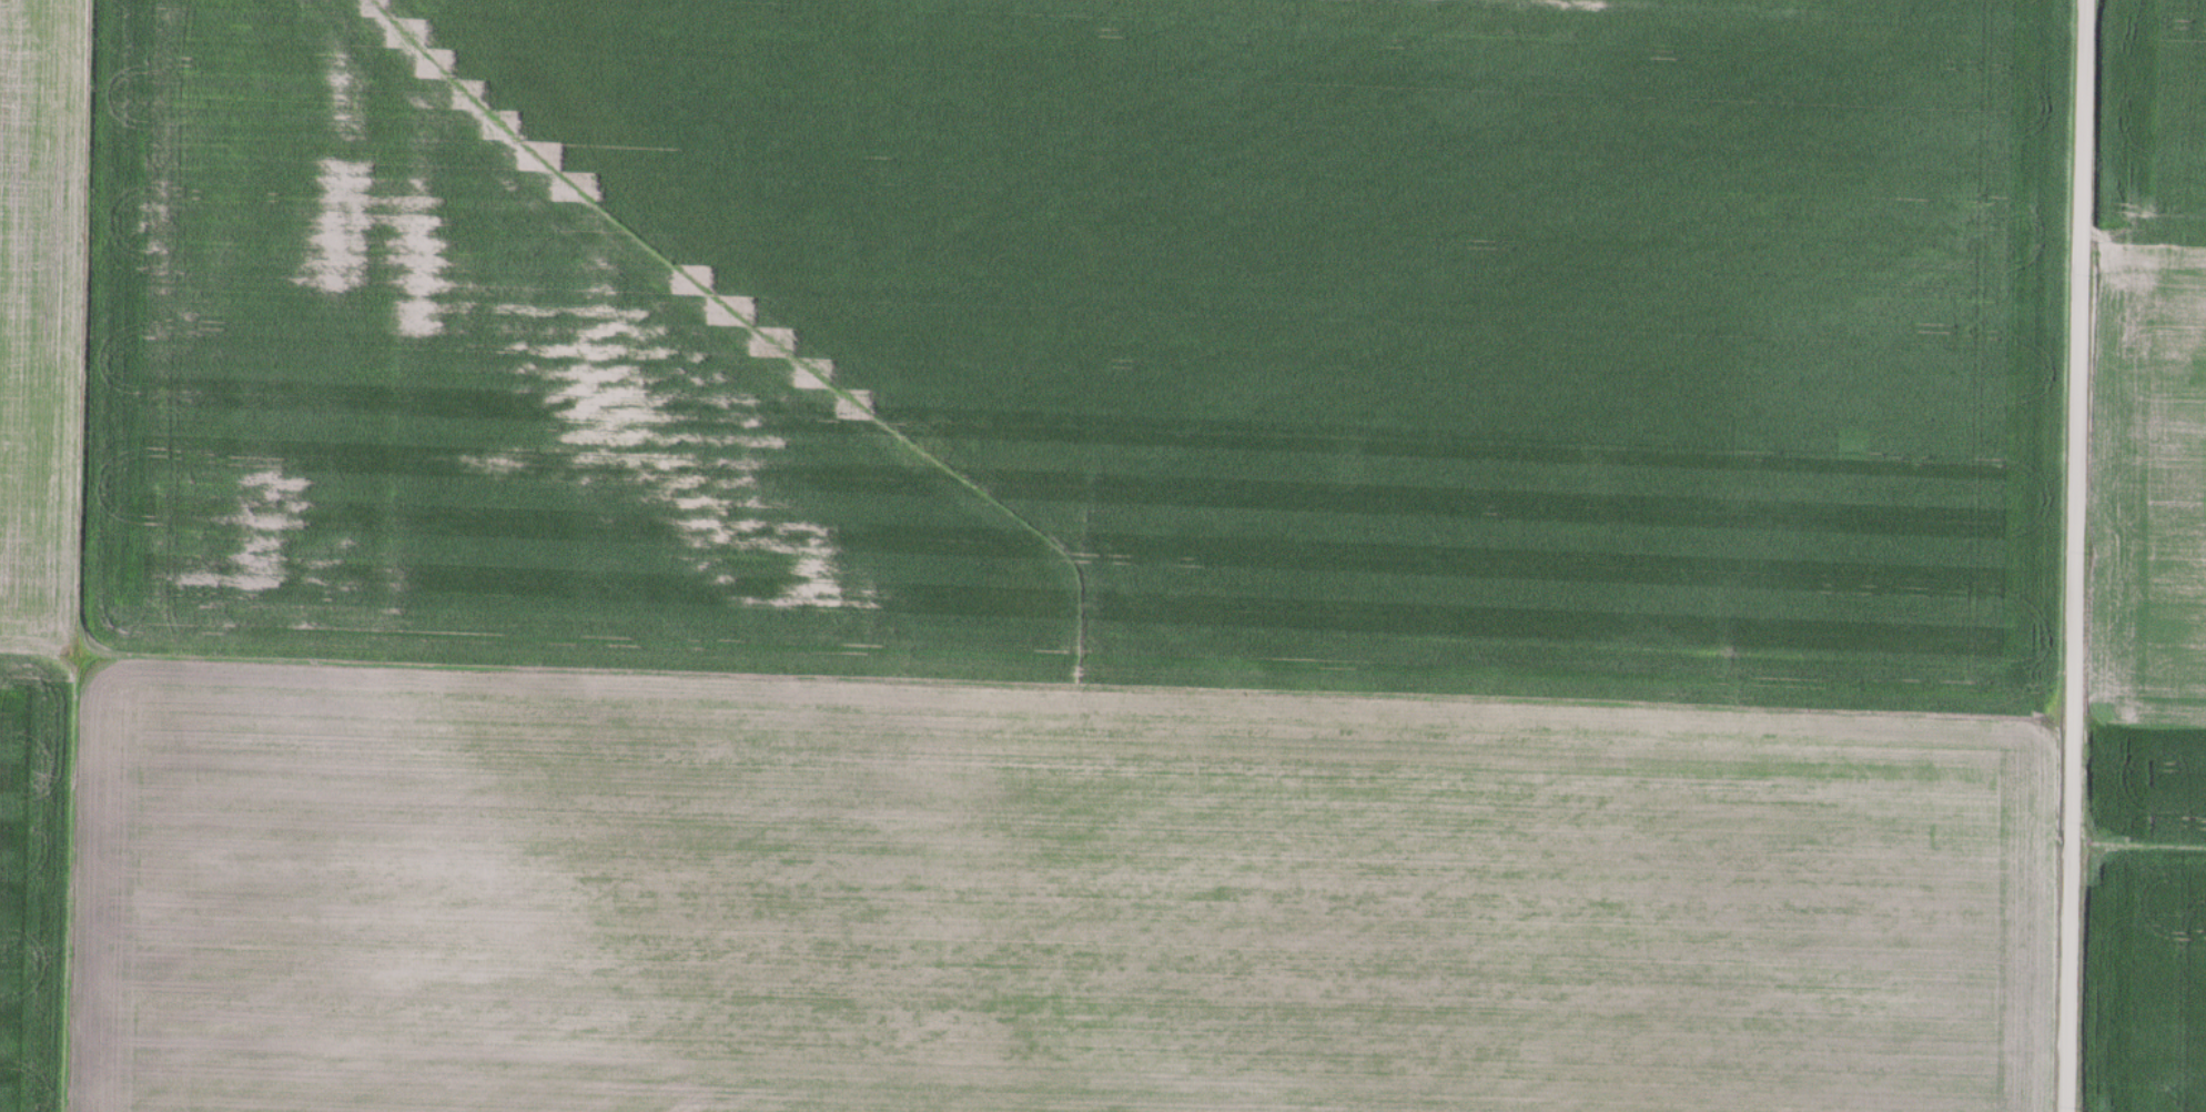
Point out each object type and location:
road: (2076, 555)

